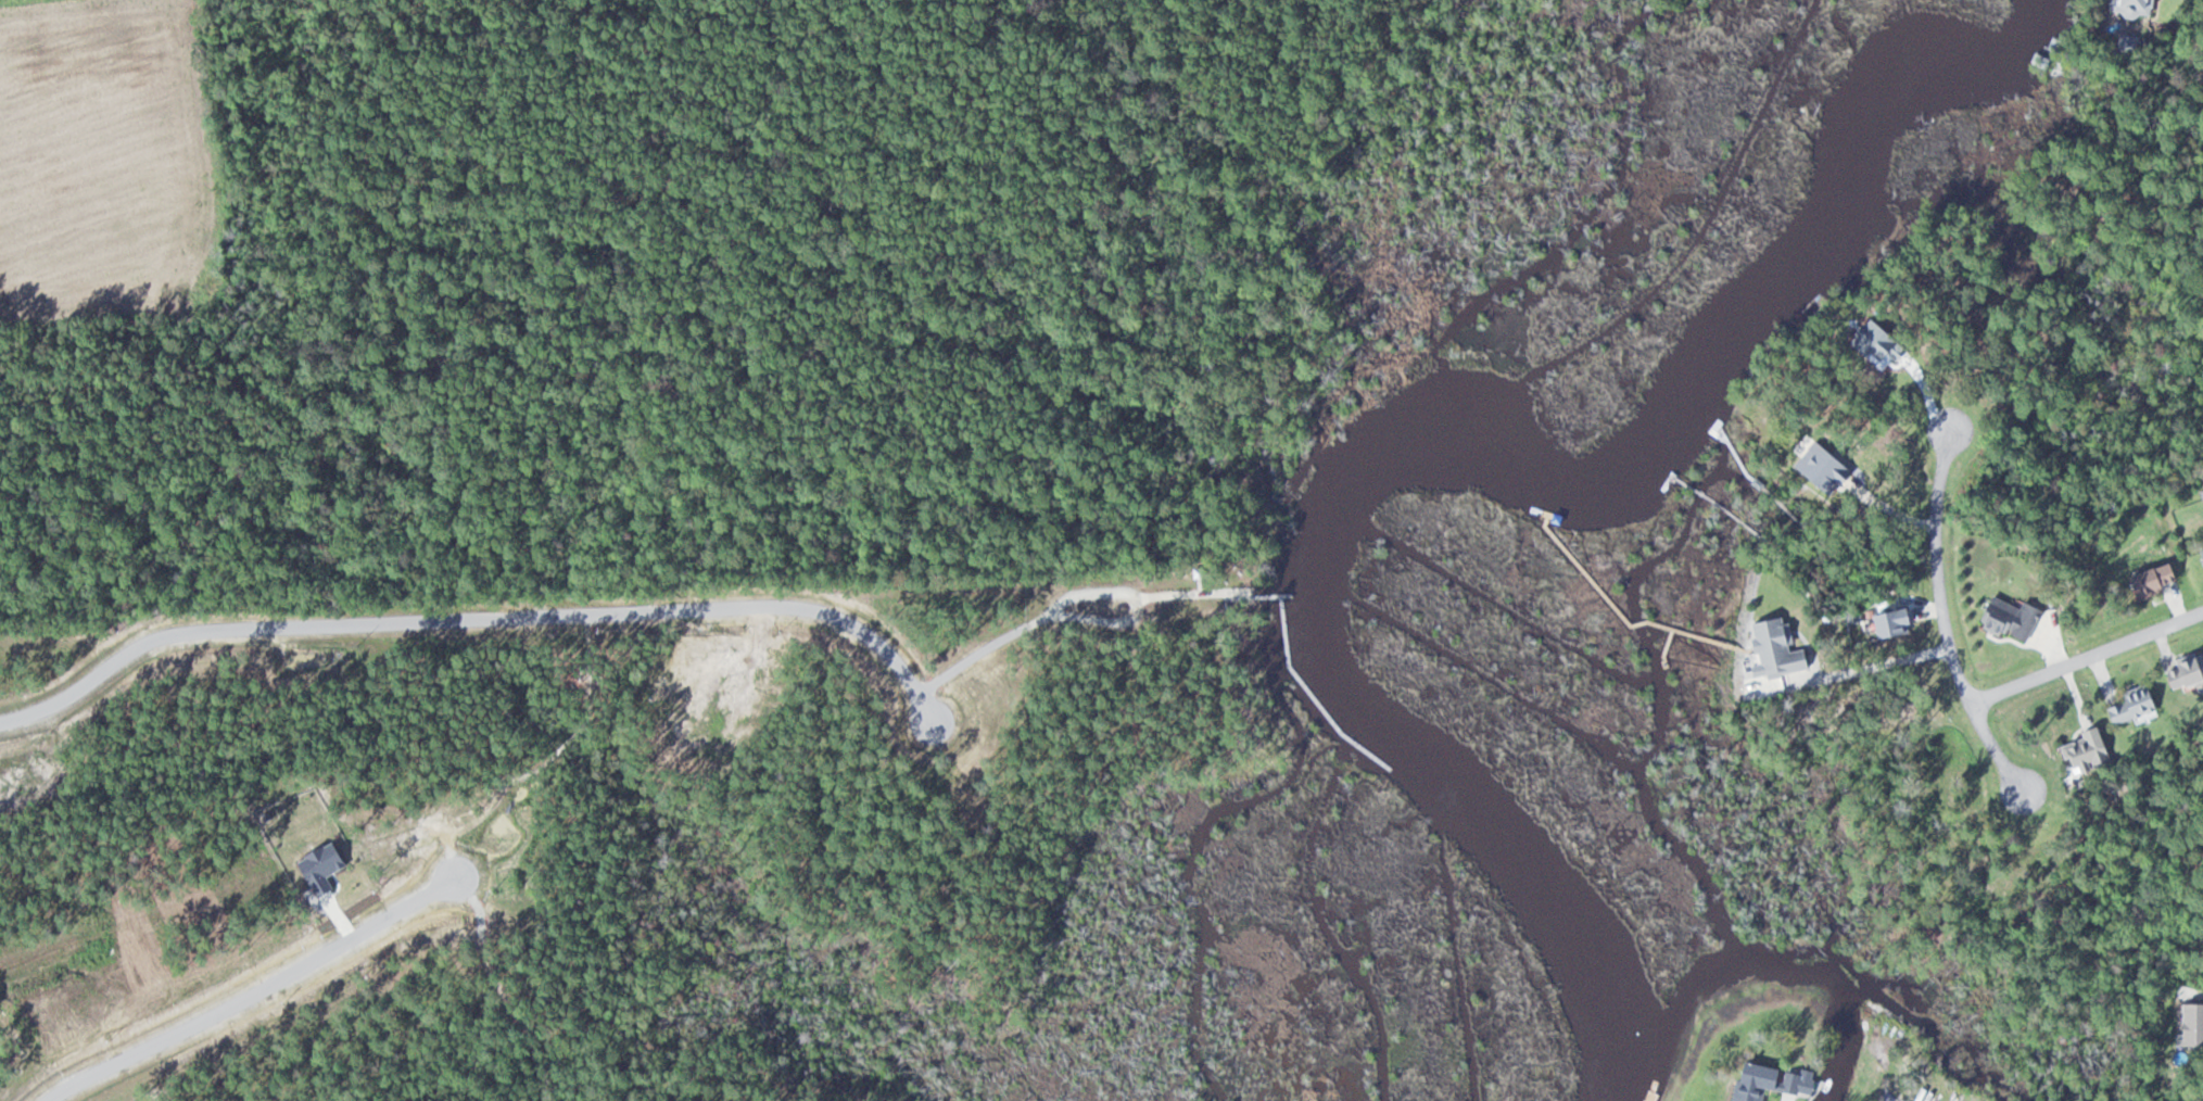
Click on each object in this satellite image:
building: (2129, 5)
building: (2199, 559)
building: (2148, 582)
building: (2006, 618)
road: (2088, 656)
building: (2182, 670)
building: (2127, 706)
building: (2189, 1023)
building: (1750, 1083)
building: (1800, 1085)
building: (1937, 1097)

